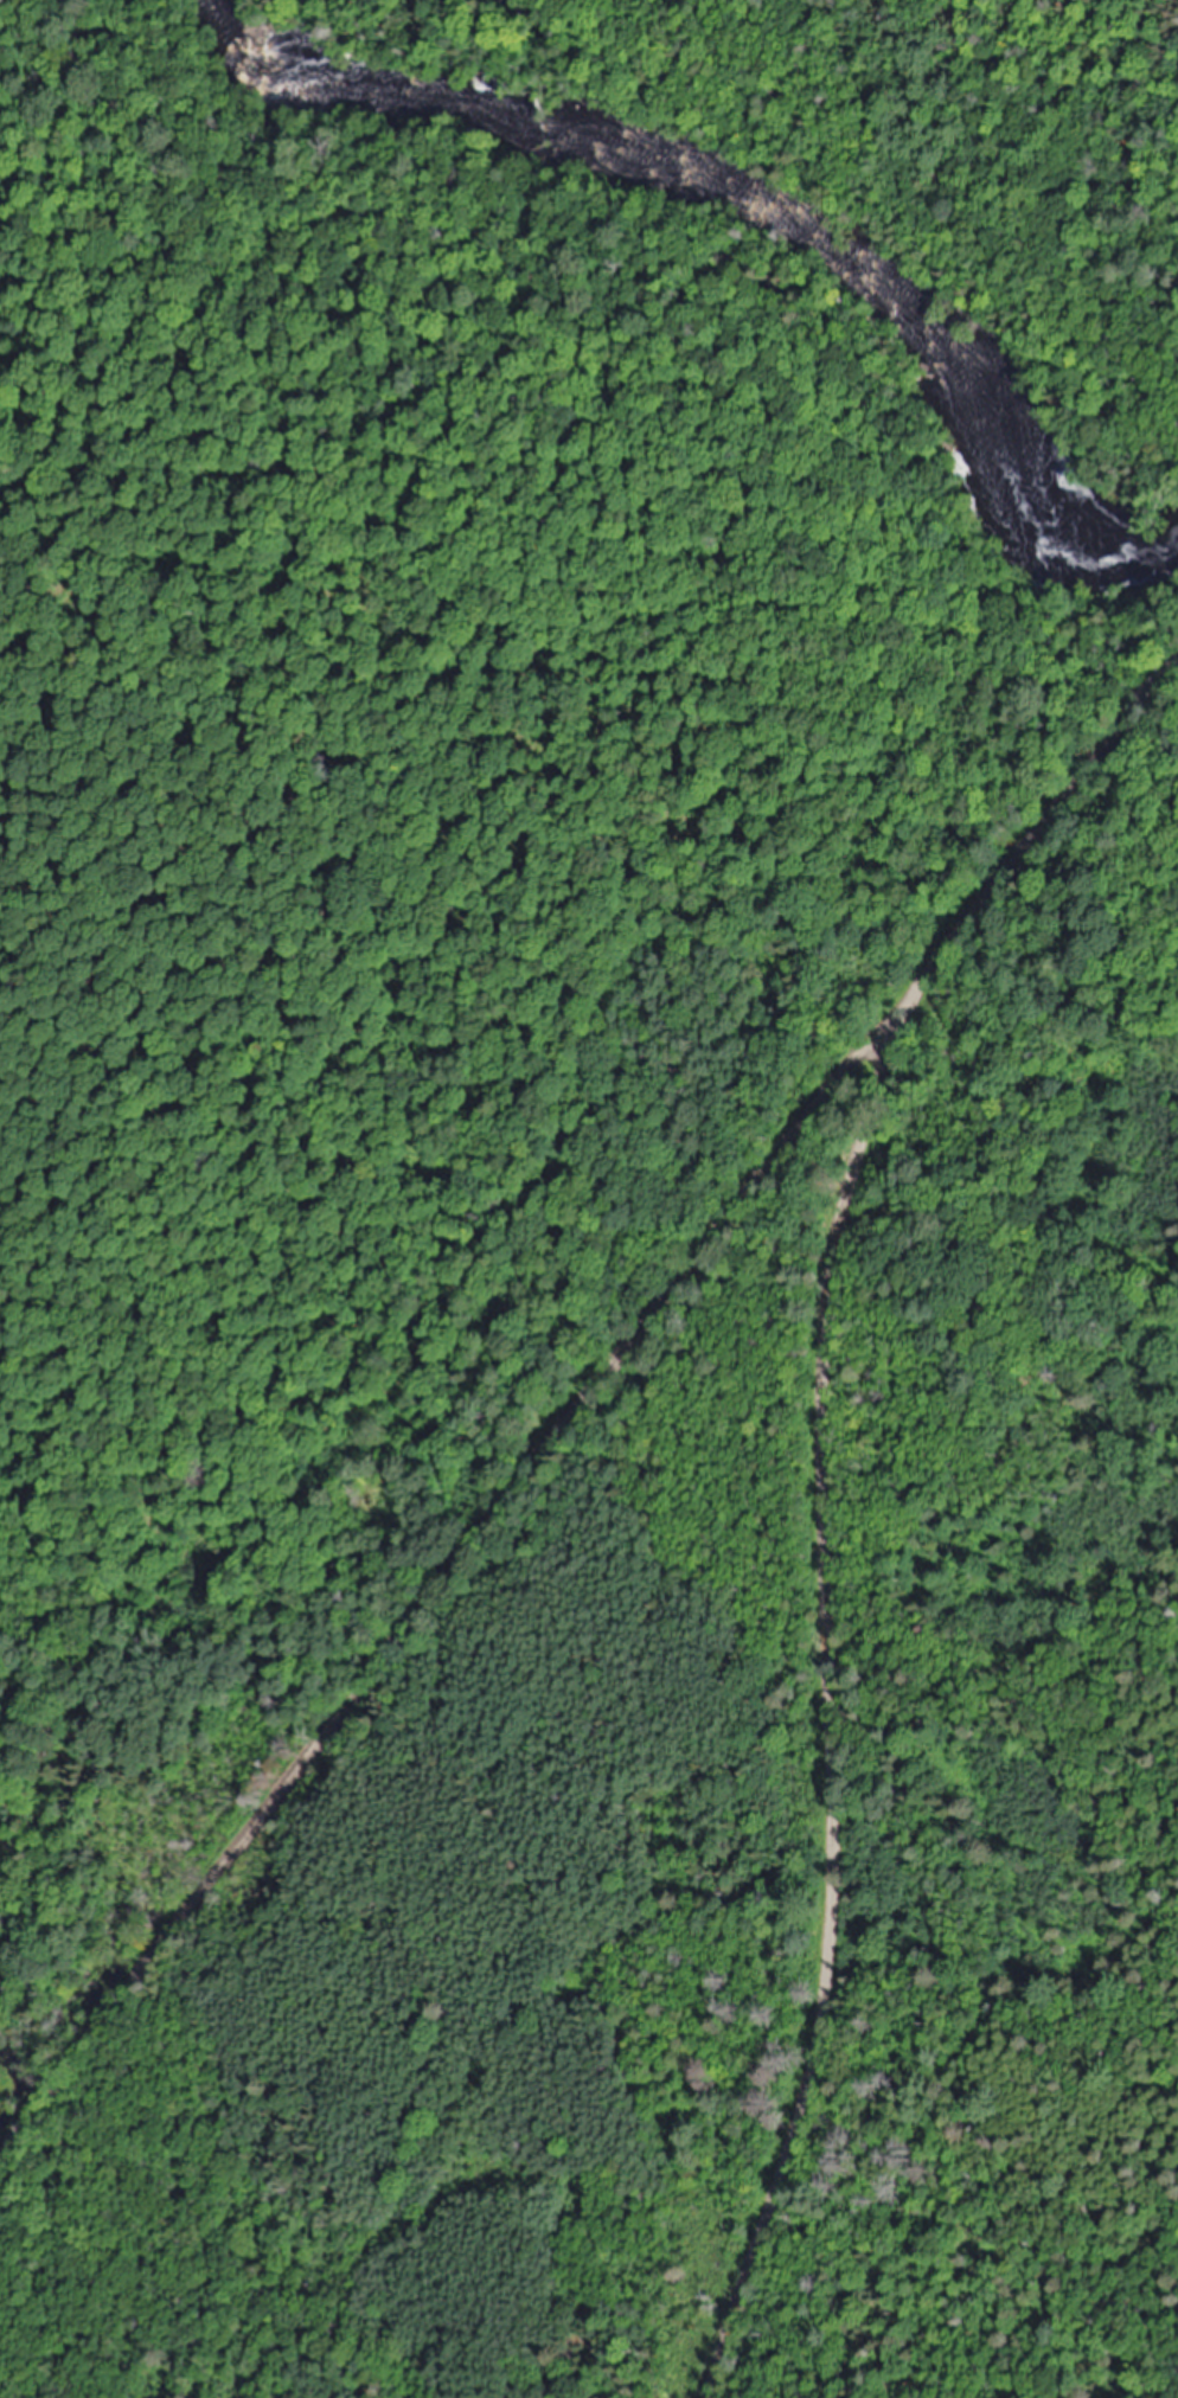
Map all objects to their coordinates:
river: (754, 200)
road: (821, 1480)
road: (446, 1577)

